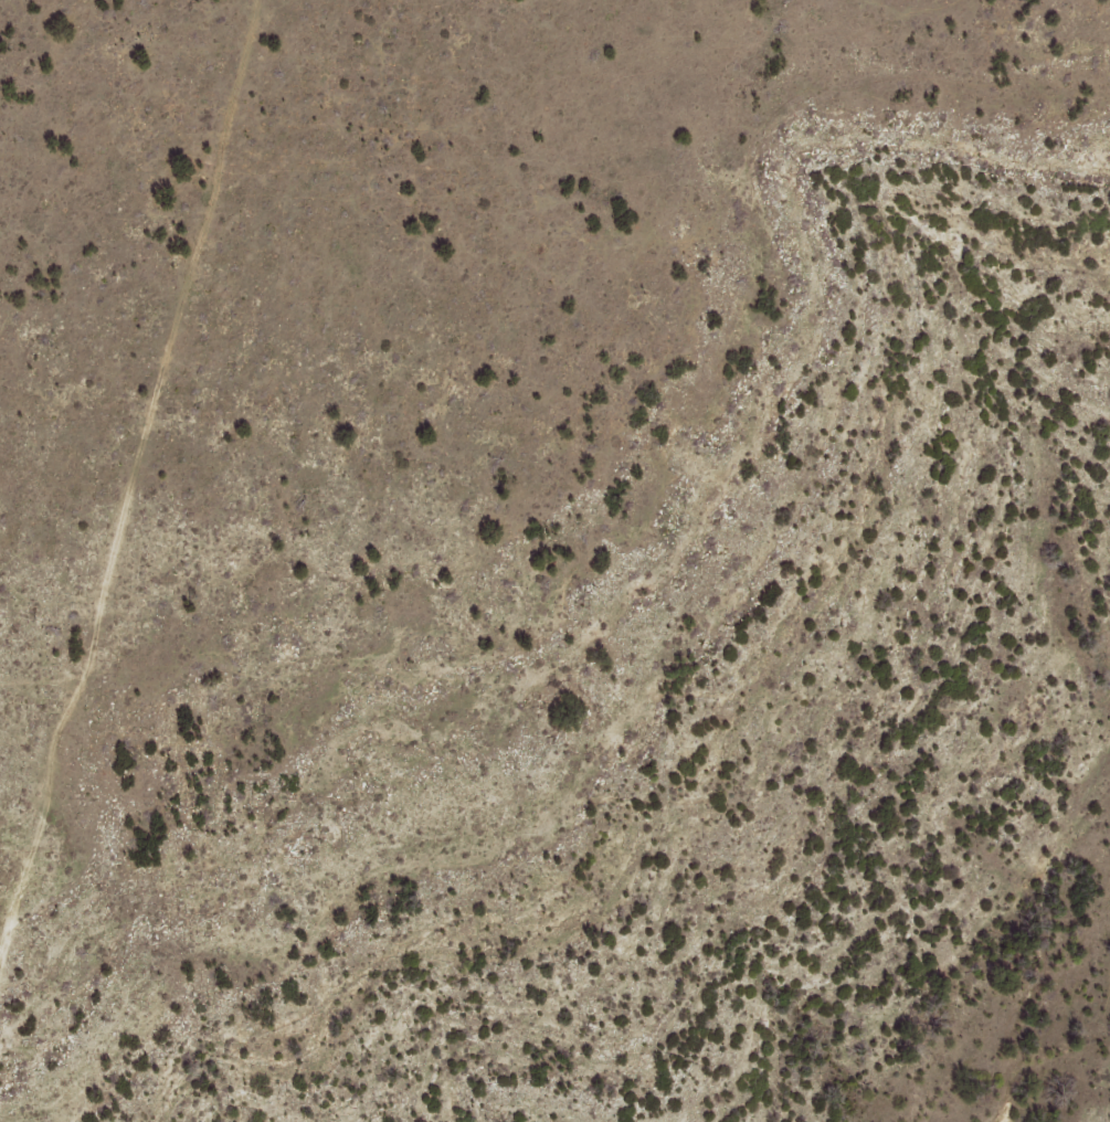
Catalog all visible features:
road: (178, 561)

